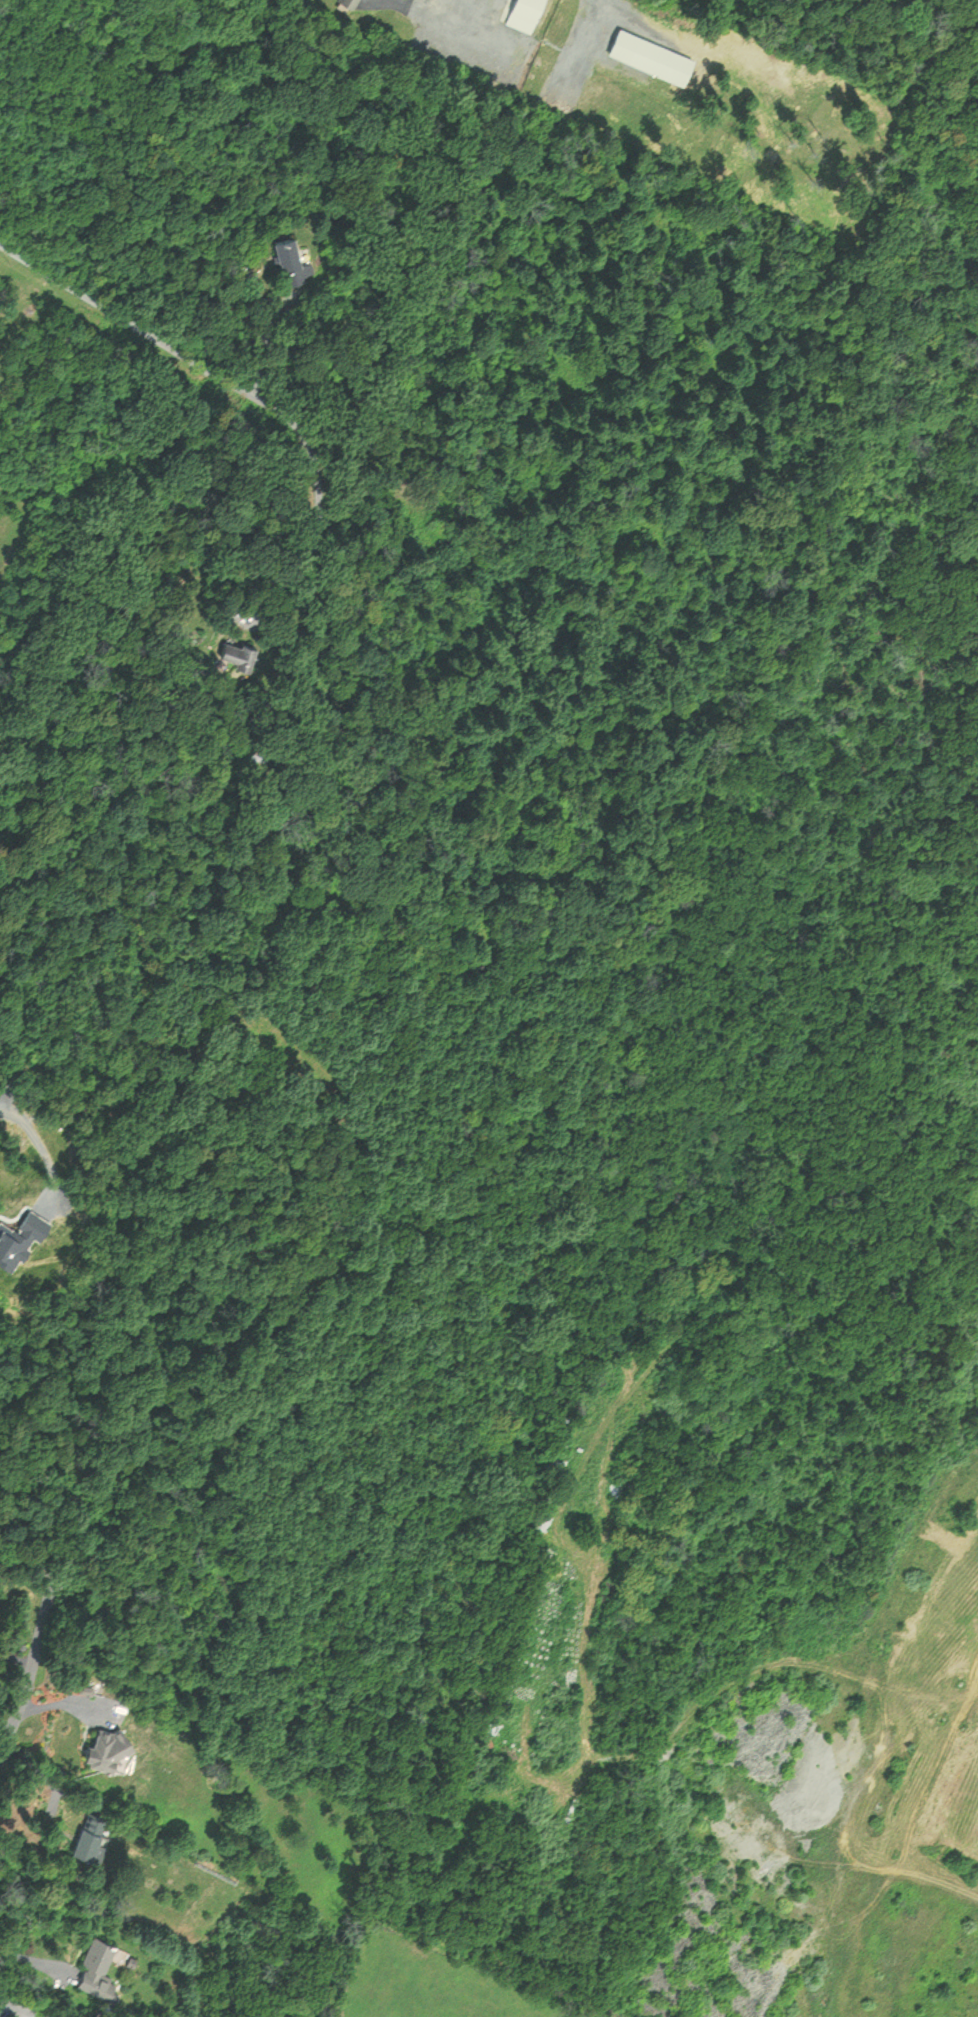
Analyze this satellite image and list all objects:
building: (350, 2)
road: (418, 8)
road: (625, 8)
building: (525, 13)
road: (443, 30)
building: (648, 53)
building: (292, 256)
road: (255, 328)
road: (220, 381)
building: (238, 650)
building: (556, 1460)
building: (542, 1520)
road: (15, 1656)
road: (29, 1667)
building: (99, 1748)
building: (85, 1835)
road: (26, 1953)
building: (93, 1962)

